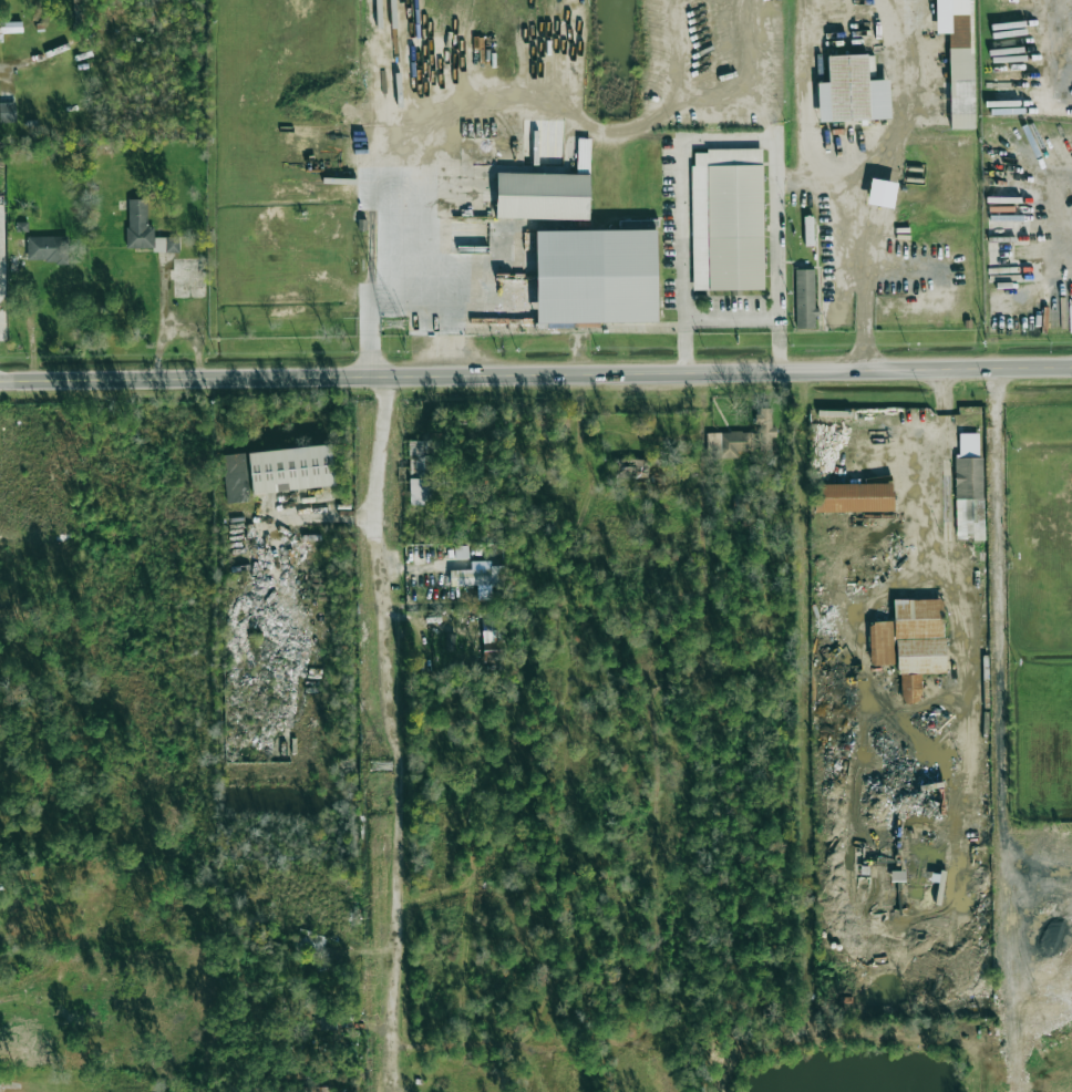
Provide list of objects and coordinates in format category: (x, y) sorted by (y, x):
building: (10, 28)
building: (958, 59)
road: (1, 68)
building: (852, 92)
road: (475, 96)
road: (903, 96)
building: (8, 112)
road: (730, 141)
road: (841, 177)
building: (882, 193)
building: (542, 196)
building: (728, 219)
building: (145, 230)
building: (48, 249)
building: (595, 277)
building: (805, 298)
road: (163, 319)
power tower: (393, 326)
road: (372, 357)
road: (536, 373)
building: (729, 444)
building: (419, 457)
building: (290, 468)
building: (235, 477)
building: (969, 487)
building: (420, 491)
building: (853, 497)
road: (319, 513)
building: (460, 552)
building: (476, 576)
road: (948, 579)
building: (492, 628)
building: (450, 641)
building: (910, 643)
building: (492, 646)
building: (492, 656)
road: (393, 733)
power tower: (383, 766)
building: (310, 944)
building: (326, 1021)

